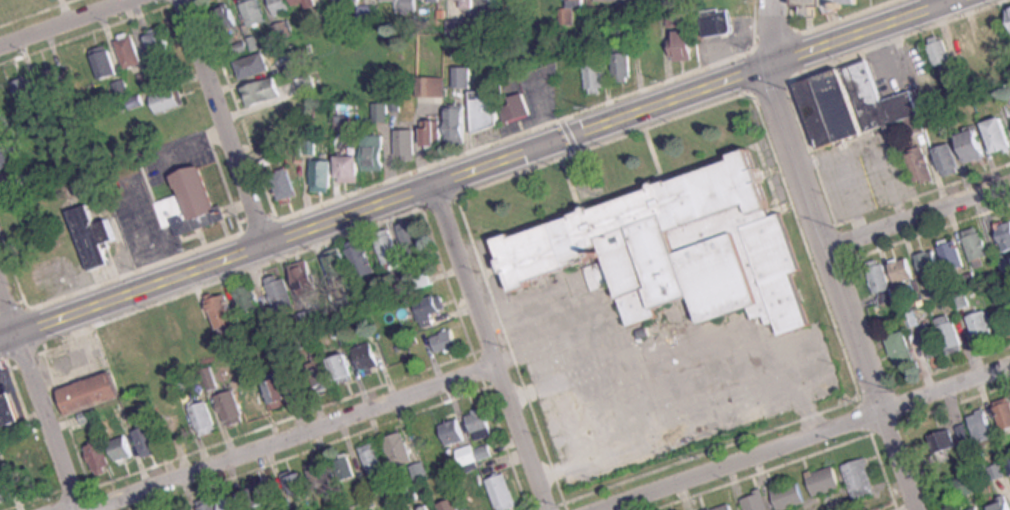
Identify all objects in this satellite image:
building: (490, 0)
building: (612, 0)
building: (20, 1)
building: (348, 1)
building: (431, 1)
building: (577, 2)
building: (306, 3)
building: (520, 3)
road: (949, 3)
building: (468, 4)
building: (826, 4)
building: (0, 5)
building: (405, 5)
building: (281, 6)
building: (1009, 9)
building: (253, 12)
building: (366, 13)
building: (679, 18)
building: (226, 19)
building: (718, 22)
road: (72, 27)
building: (458, 31)
building: (996, 36)
building: (159, 43)
building: (966, 43)
building: (685, 45)
building: (130, 52)
building: (940, 52)
building: (105, 65)
building: (253, 66)
building: (624, 67)
building: (596, 77)
building: (463, 78)
building: (52, 80)
building: (433, 87)
building: (26, 89)
building: (263, 92)
building: (5, 96)
building: (167, 101)
building: (852, 104)
building: (518, 109)
building: (485, 110)
building: (383, 113)
building: (270, 120)
road: (234, 124)
building: (458, 124)
building: (916, 125)
building: (434, 133)
building: (999, 136)
building: (407, 144)
building: (975, 147)
building: (7, 159)
building: (375, 159)
building: (948, 160)
building: (921, 167)
road: (482, 169)
building: (351, 170)
building: (324, 176)
building: (12, 180)
building: (285, 184)
building: (190, 203)
road: (920, 215)
building: (93, 236)
building: (1005, 237)
building: (413, 238)
building: (977, 246)
building: (390, 248)
building: (678, 249)
building: (953, 256)
road: (834, 257)
building: (362, 258)
building: (930, 263)
building: (339, 264)
building: (903, 271)
building: (1008, 275)
building: (881, 276)
building: (307, 278)
building: (280, 291)
building: (249, 297)
building: (432, 308)
building: (223, 311)
road: (586, 311)
building: (195, 319)
road: (729, 327)
building: (983, 327)
building: (950, 334)
building: (447, 339)
building: (931, 340)
road: (492, 348)
road: (600, 348)
building: (902, 348)
building: (370, 358)
building: (144, 368)
building: (345, 368)
building: (321, 376)
road: (44, 383)
building: (185, 383)
building: (97, 388)
building: (279, 393)
building: (256, 403)
building: (231, 408)
road: (596, 412)
building: (7, 414)
building: (205, 418)
building: (481, 422)
road: (702, 422)
building: (983, 426)
building: (454, 431)
road: (293, 436)
road: (807, 437)
building: (944, 440)
building: (148, 441)
building: (0, 449)
building: (123, 449)
building: (401, 449)
building: (100, 456)
building: (374, 460)
building: (346, 467)
building: (999, 471)
building: (861, 478)
building: (322, 479)
building: (825, 480)
building: (299, 483)
building: (967, 485)
building: (5, 487)
building: (504, 491)
building: (411, 493)
building: (790, 495)
building: (259, 496)
building: (477, 498)
building: (233, 502)
building: (756, 502)
building: (1001, 503)
building: (451, 504)
building: (207, 505)
building: (725, 507)
building: (429, 508)

